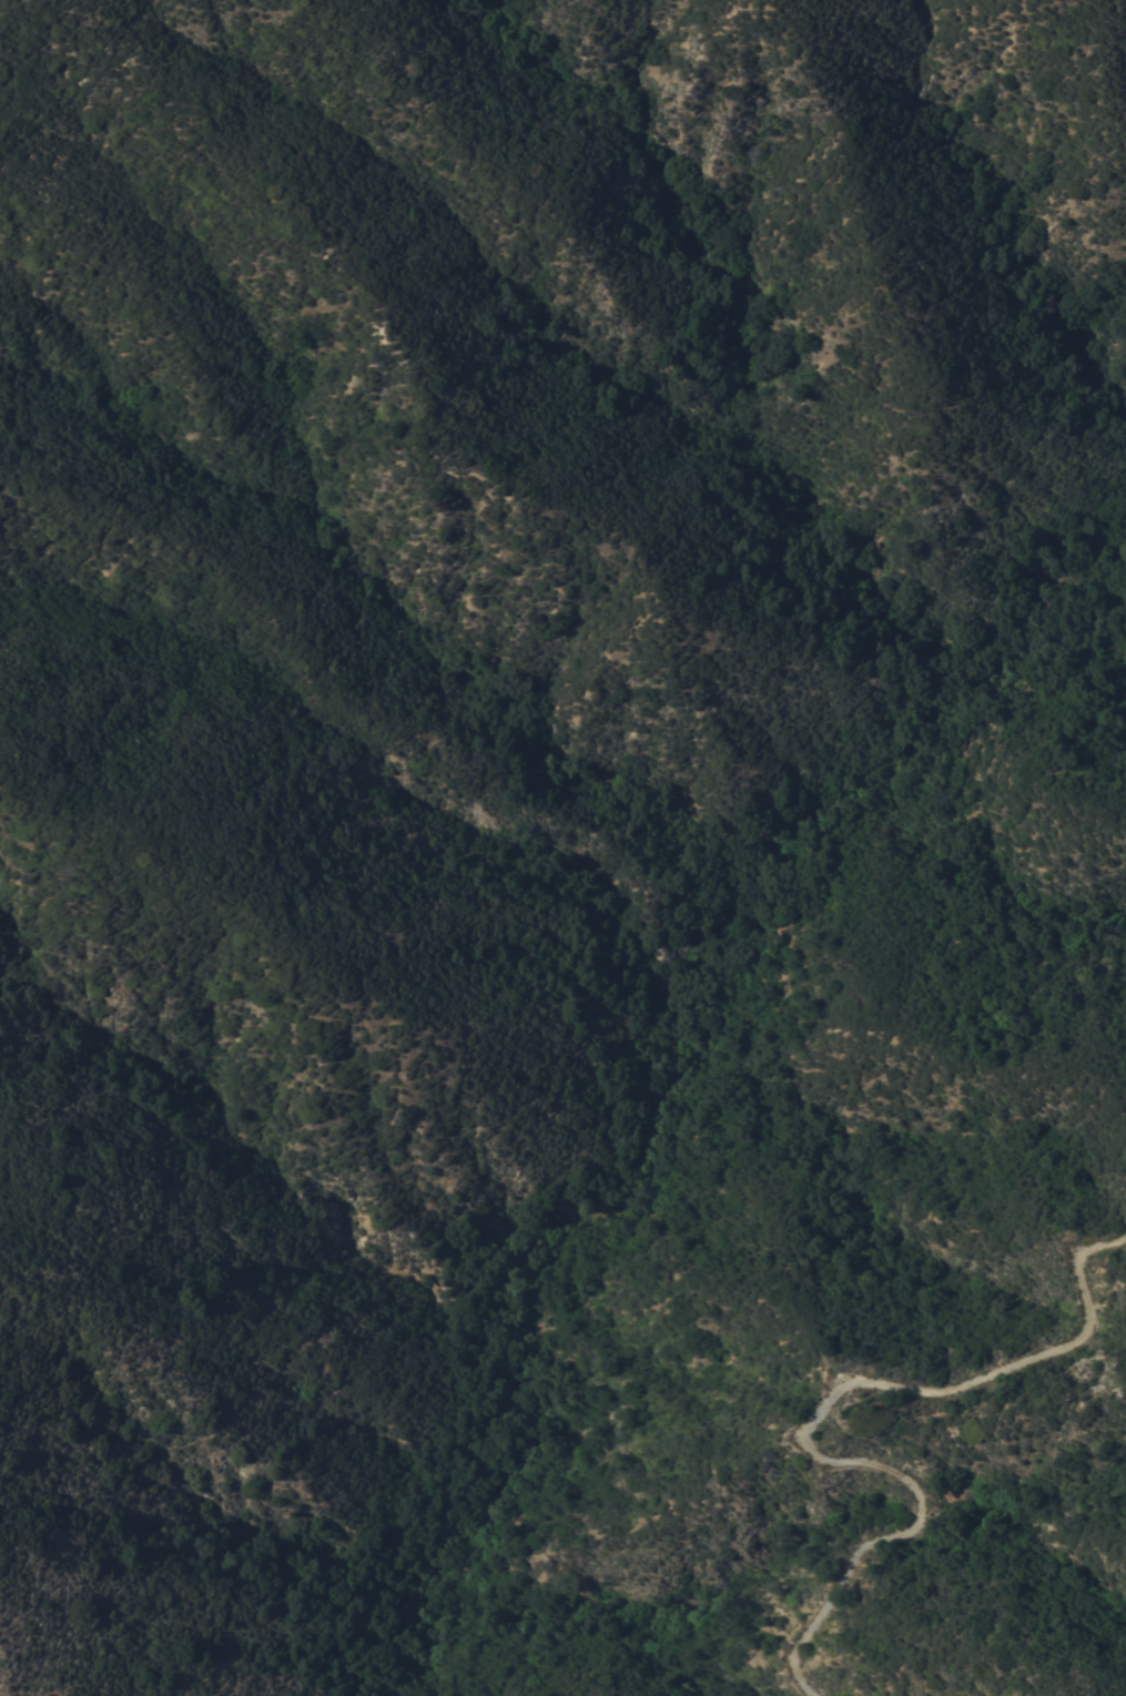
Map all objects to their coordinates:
road: (851, 1435)

